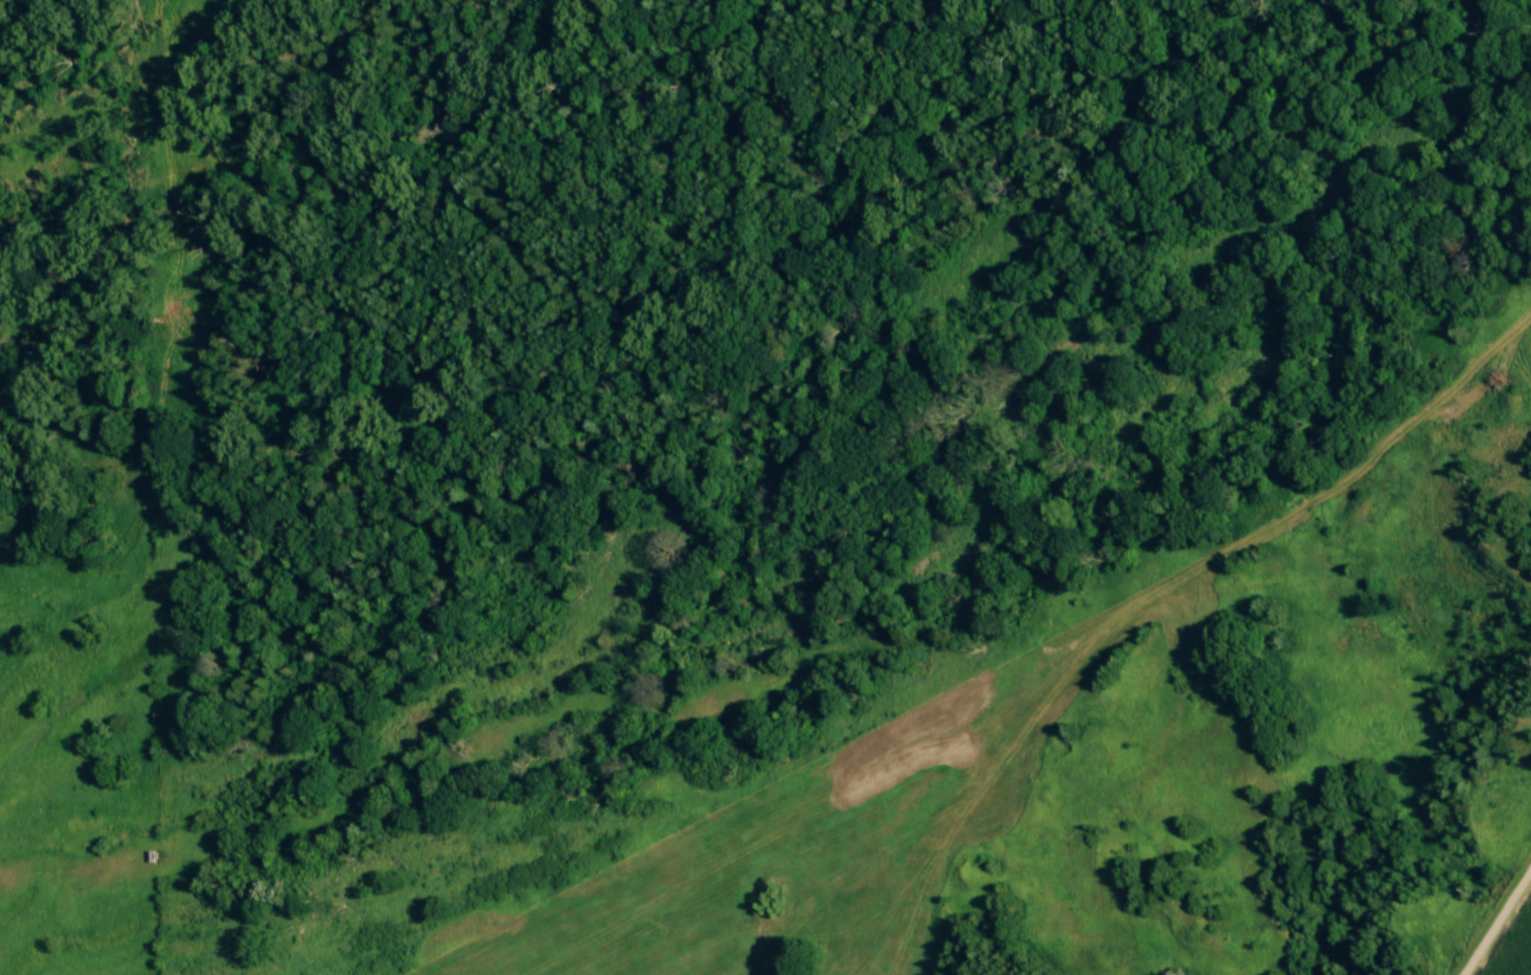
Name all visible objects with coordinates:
road: (1497, 923)

